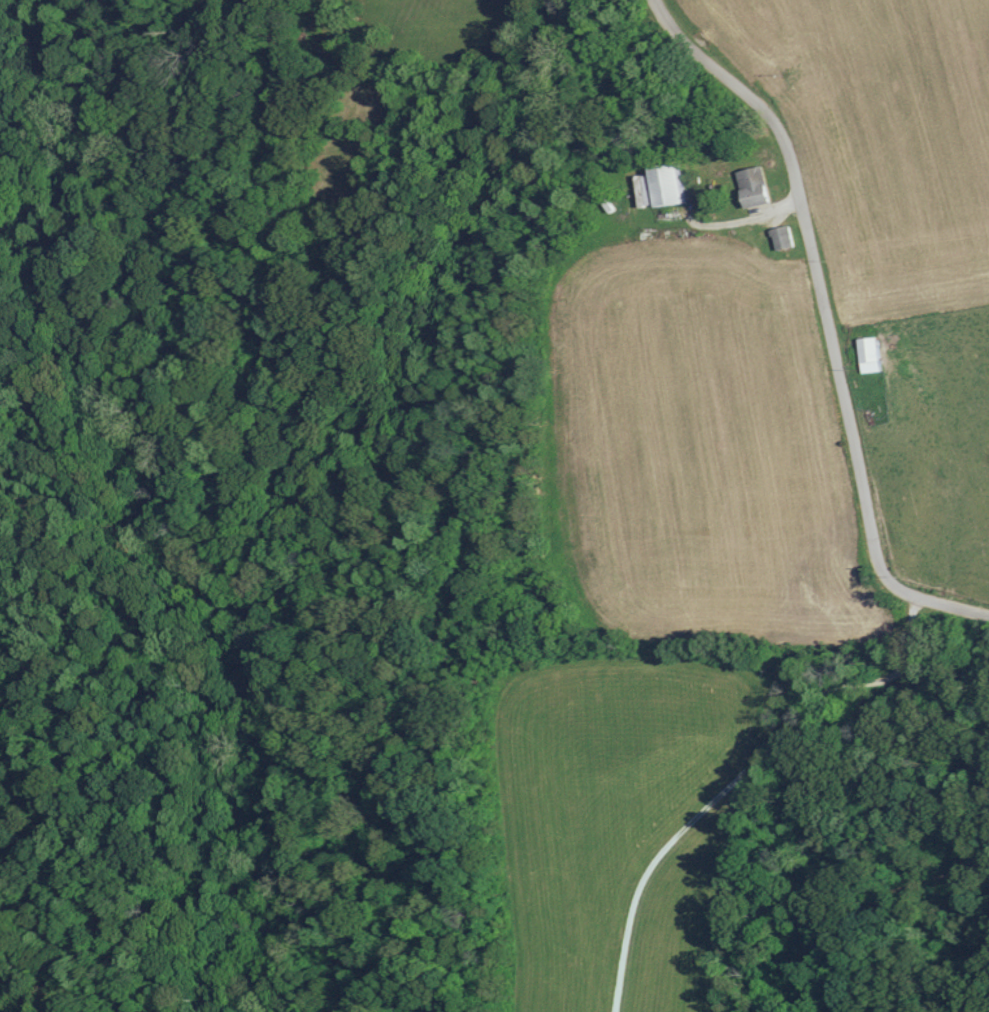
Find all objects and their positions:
building: (749, 186)
road: (746, 229)
building: (780, 236)
road: (828, 324)
building: (867, 354)
road: (749, 786)

